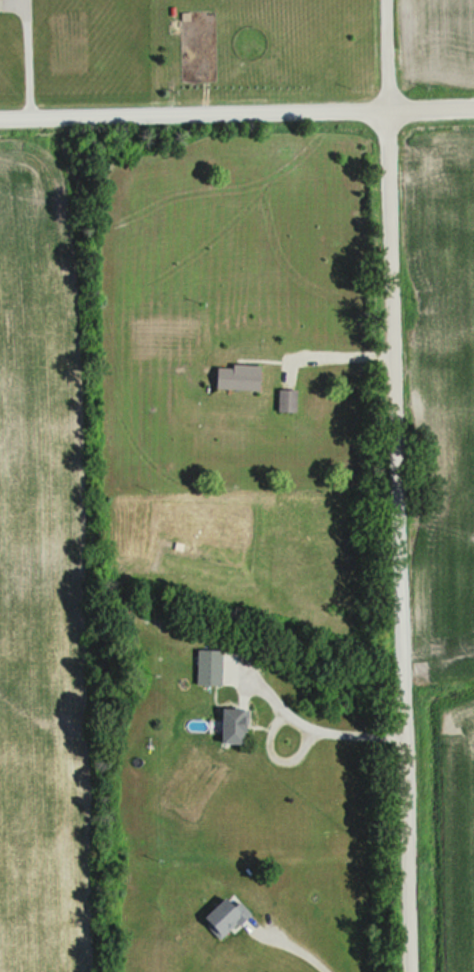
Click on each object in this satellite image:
road: (21, 59)
road: (236, 112)
road: (339, 350)
building: (241, 379)
building: (290, 402)
road: (397, 486)
building: (213, 669)
road: (342, 728)
building: (238, 729)
building: (229, 918)
road: (299, 947)

